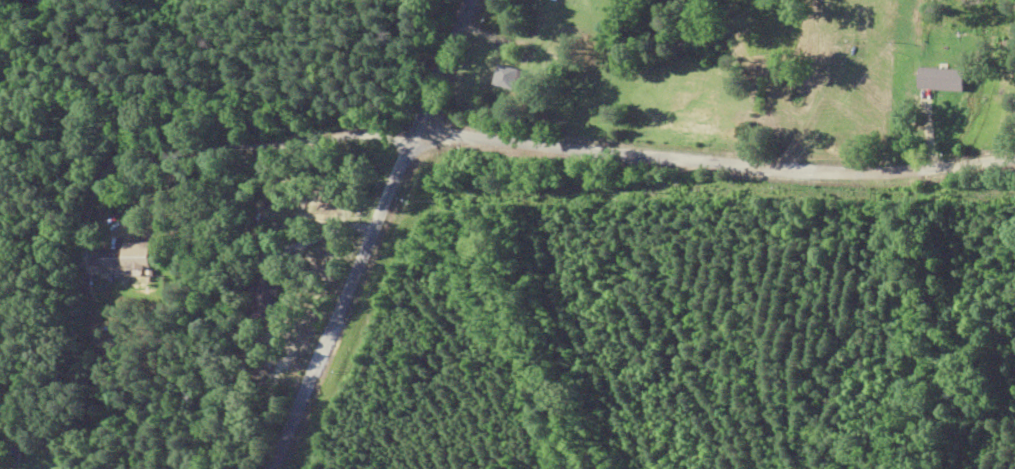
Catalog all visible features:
building: (838, 53)
building: (937, 80)
road: (205, 138)
road: (713, 152)
road: (369, 234)
building: (111, 265)

